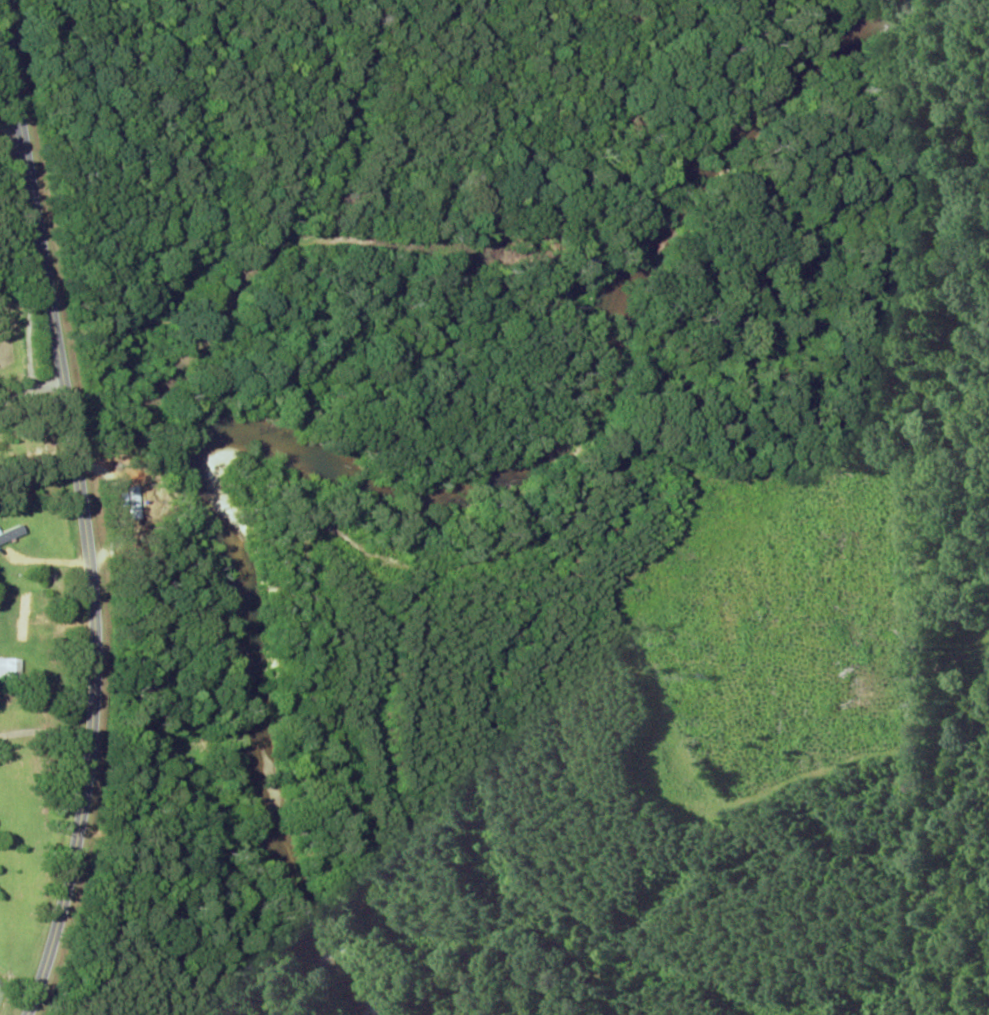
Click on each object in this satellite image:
road: (4, 129)
road: (83, 508)
building: (11, 534)
building: (24, 618)
building: (10, 669)

